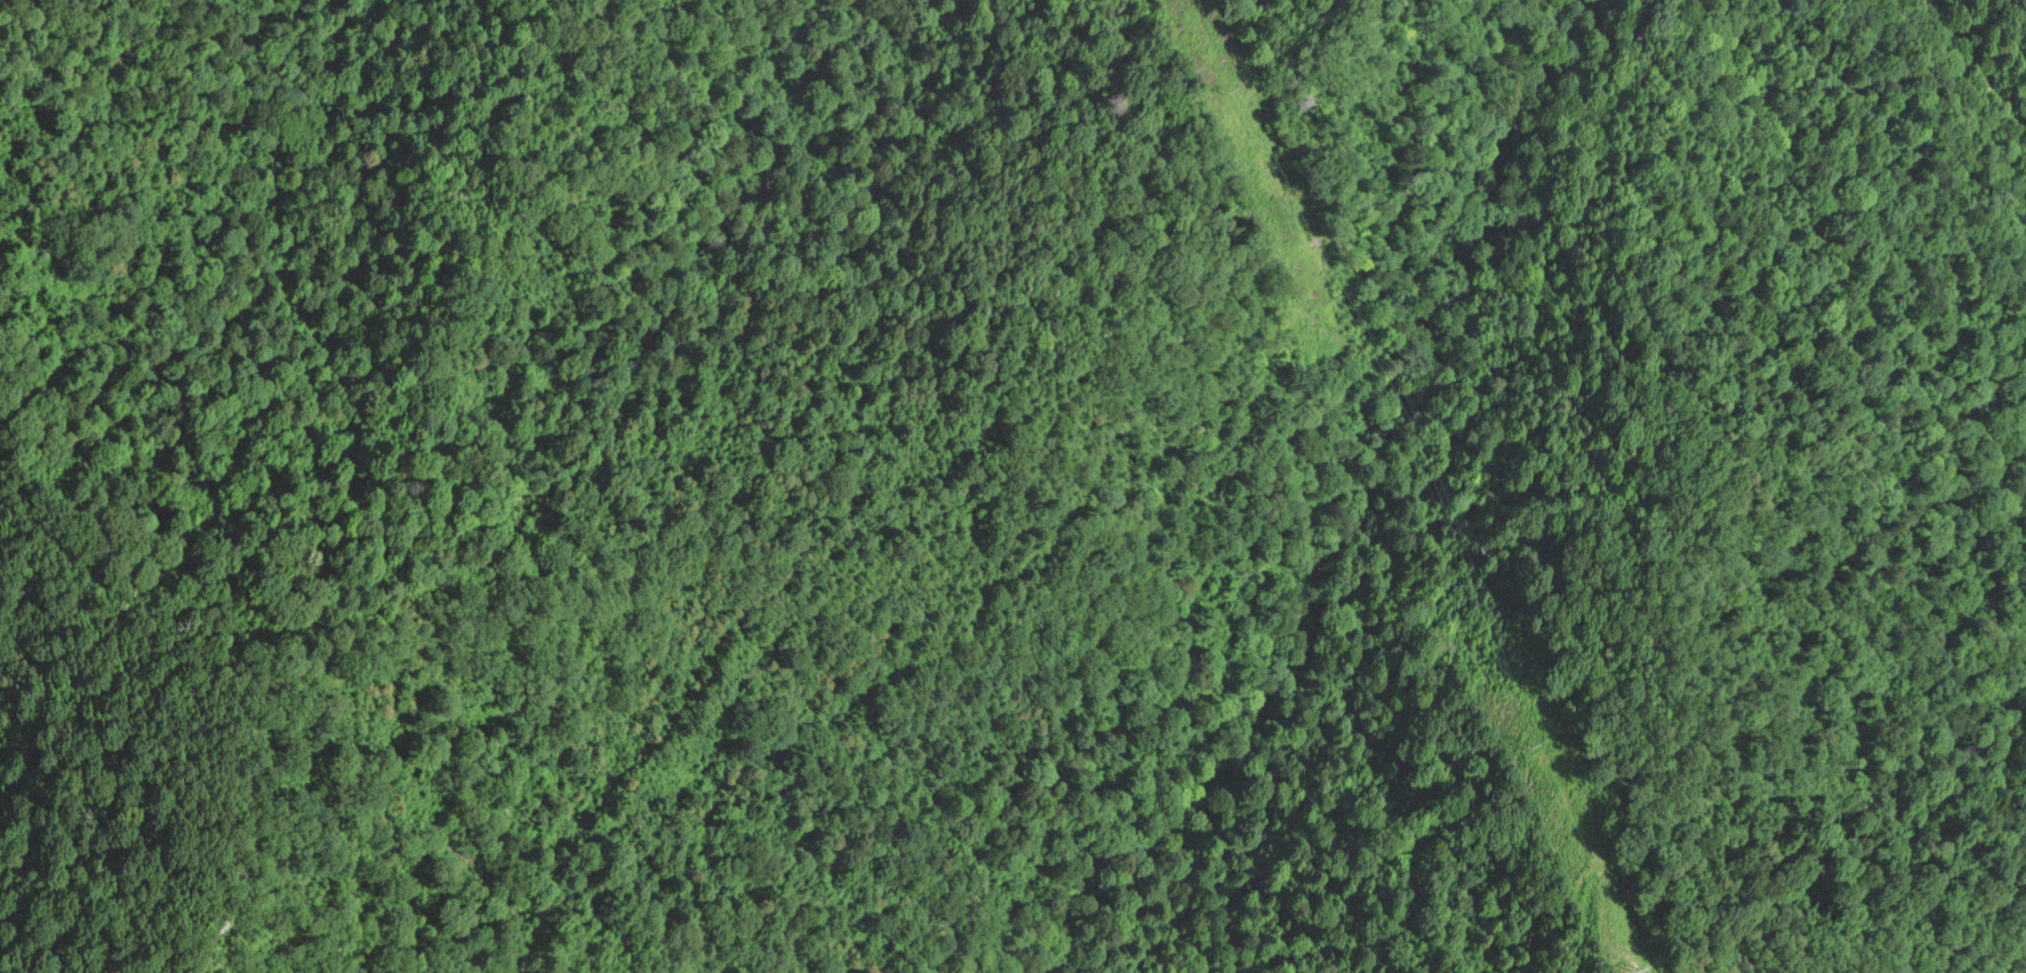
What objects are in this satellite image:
road: (1989, 51)

